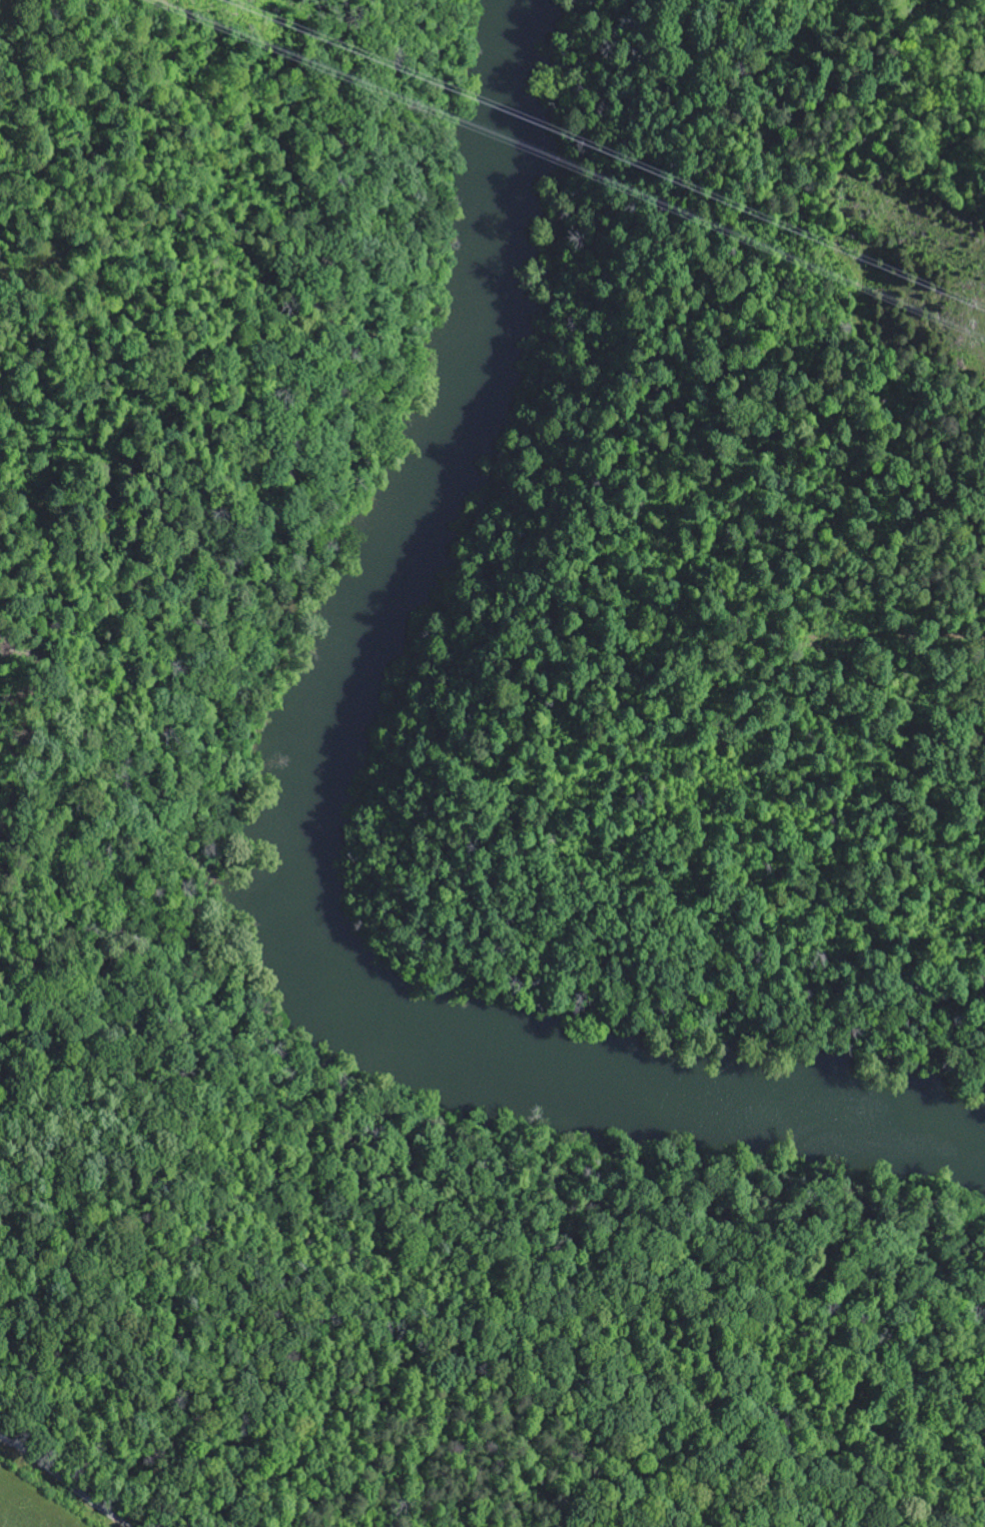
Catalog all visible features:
river: (303, 805)
road: (94, 1484)

